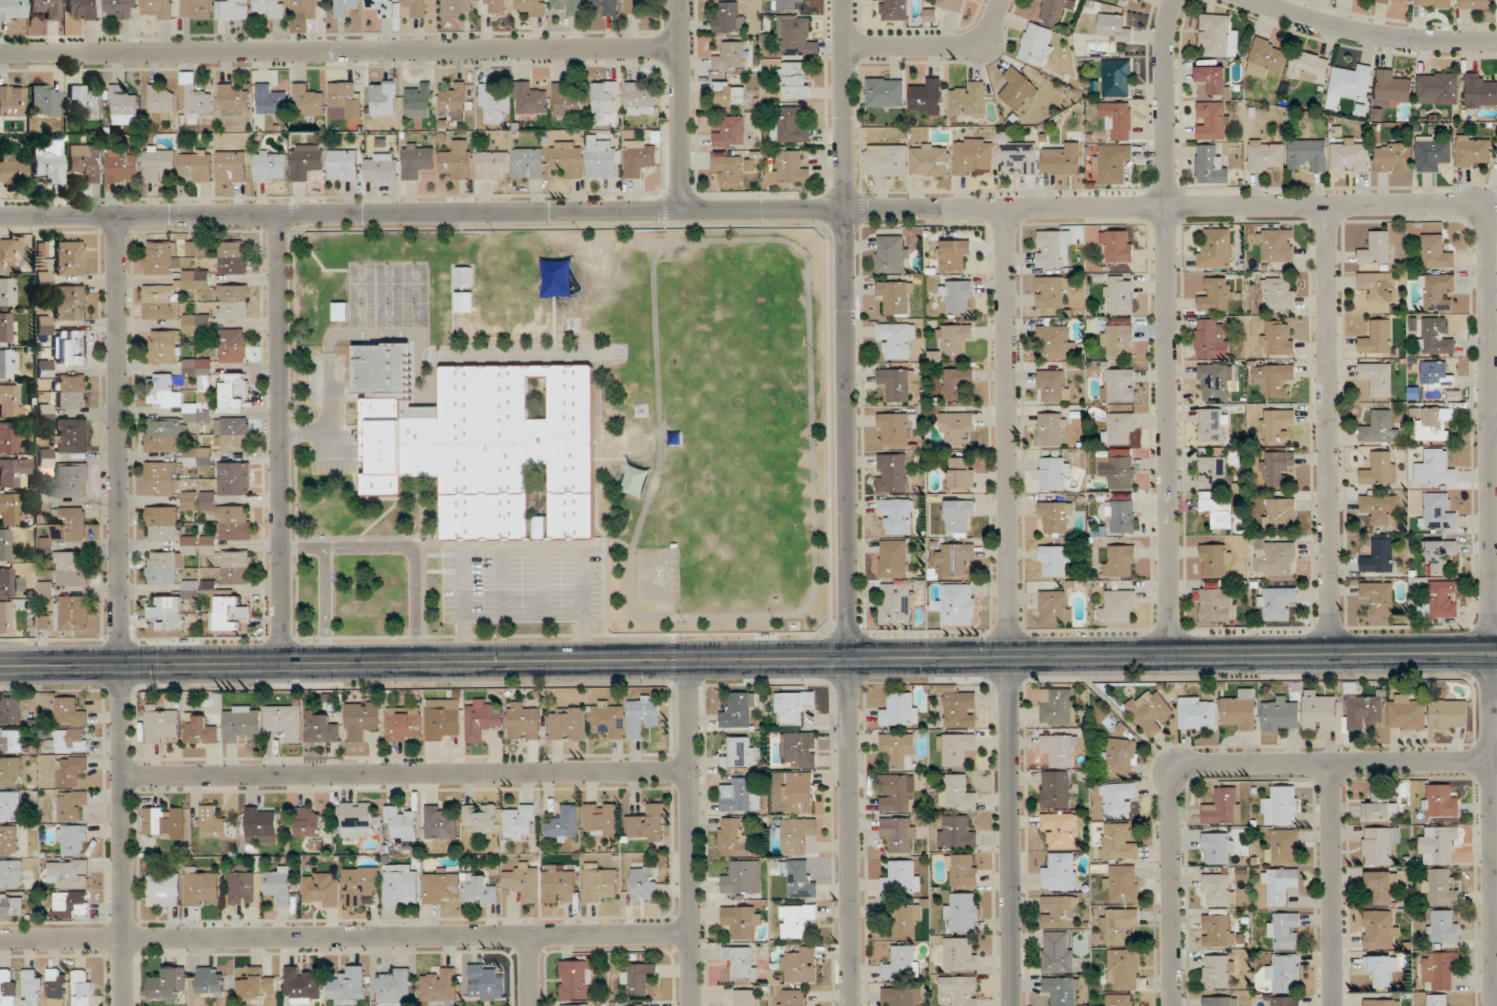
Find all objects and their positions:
building: (1382, 1)
building: (953, 4)
building: (1433, 4)
building: (1474, 4)
building: (785, 5)
building: (568, 6)
building: (606, 6)
building: (634, 6)
building: (345, 7)
building: (381, 7)
building: (416, 7)
building: (456, 7)
building: (493, 7)
building: (532, 7)
building: (47, 8)
building: (121, 8)
building: (158, 8)
building: (270, 8)
building: (303, 8)
building: (83, 9)
building: (195, 9)
building: (895, 9)
building: (12, 10)
building: (233, 10)
building: (1054, 11)
building: (929, 15)
building: (727, 18)
building: (1114, 27)
road: (1372, 34)
building: (1219, 35)
building: (796, 37)
building: (1036, 44)
road: (937, 47)
road: (339, 51)
building: (731, 55)
building: (1266, 58)
building: (1308, 66)
building: (1213, 77)
building: (1117, 78)
building: (794, 80)
building: (1352, 81)
building: (1017, 88)
building: (1393, 88)
building: (1438, 88)
building: (885, 91)
building: (1480, 91)
building: (730, 94)
building: (603, 96)
building: (382, 97)
building: (927, 97)
building: (234, 99)
building: (309, 99)
building: (345, 99)
building: (530, 99)
building: (639, 99)
building: (46, 100)
building: (12, 101)
building: (194, 101)
building: (270, 101)
building: (419, 101)
building: (454, 101)
building: (565, 101)
building: (968, 101)
building: (85, 102)
building: (161, 102)
building: (494, 105)
building: (123, 106)
road: (679, 106)
building: (1118, 119)
building: (1213, 120)
building: (790, 126)
building: (731, 132)
building: (1473, 151)
building: (1432, 152)
building: (972, 155)
building: (1266, 155)
building: (1308, 155)
building: (1016, 156)
building: (1350, 156)
building: (1393, 157)
building: (1496, 157)
building: (568, 158)
building: (639, 158)
building: (457, 159)
building: (602, 159)
building: (930, 159)
building: (417, 160)
building: (886, 160)
building: (1063, 160)
building: (51, 161)
building: (86, 161)
building: (307, 161)
building: (158, 163)
building: (529, 163)
building: (1111, 163)
building: (492, 164)
building: (1211, 164)
building: (197, 165)
building: (343, 165)
building: (122, 166)
building: (231, 166)
building: (270, 166)
building: (791, 167)
building: (12, 168)
building: (382, 168)
building: (732, 170)
road: (1140, 207)
road: (823, 230)
road: (637, 231)
building: (1276, 245)
building: (1117, 246)
building: (196, 248)
building: (1052, 248)
building: (1377, 248)
building: (1216, 249)
building: (1436, 252)
building: (7, 253)
building: (954, 253)
building: (892, 254)
building: (161, 257)
building: (233, 257)
building: (70, 258)
building: (464, 276)
building: (196, 279)
building: (1379, 286)
building: (6, 291)
building: (1052, 292)
building: (1437, 292)
building: (1119, 294)
building: (1279, 294)
building: (956, 295)
building: (1217, 295)
building: (895, 296)
building: (162, 301)
building: (233, 301)
building: (70, 302)
building: (465, 302)
building: (341, 311)
building: (196, 323)
building: (43, 325)
building: (465, 326)
building: (5, 327)
road: (1166, 327)
building: (1432, 335)
building: (954, 338)
building: (1277, 338)
building: (1378, 338)
building: (897, 339)
building: (1211, 339)
building: (1117, 340)
building: (1055, 343)
building: (232, 345)
building: (164, 346)
building: (70, 347)
building: (5, 363)
building: (44, 369)
building: (1436, 374)
building: (1273, 378)
building: (1378, 378)
building: (1215, 380)
building: (955, 382)
building: (896, 383)
building: (1118, 384)
building: (1053, 385)
building: (72, 391)
building: (163, 391)
building: (234, 393)
building: (11, 400)
building: (197, 410)
building: (45, 412)
road: (1493, 415)
road: (332, 421)
building: (1433, 423)
building: (1213, 425)
building: (1277, 425)
building: (958, 426)
building: (896, 427)
building: (1119, 428)
building: (1379, 428)
building: (1052, 429)
road: (1328, 430)
building: (233, 434)
building: (71, 435)
building: (9, 437)
road: (280, 439)
building: (483, 441)
building: (198, 456)
building: (45, 457)
building: (1277, 467)
building: (1381, 468)
building: (1434, 468)
building: (1117, 471)
building: (962, 472)
building: (1215, 472)
building: (15, 473)
building: (892, 473)
building: (1054, 473)
building: (234, 478)
building: (71, 479)
building: (161, 479)
building: (636, 480)
road: (846, 503)
building: (12, 509)
building: (1380, 509)
building: (1217, 511)
building: (1437, 511)
building: (1280, 513)
building: (959, 514)
building: (897, 515)
building: (1056, 516)
building: (1121, 516)
building: (229, 518)
building: (168, 519)
building: (74, 525)
building: (541, 533)
building: (5, 544)
road: (404, 547)
road: (524, 551)
building: (1439, 555)
building: (1380, 556)
building: (893, 558)
building: (956, 558)
building: (1278, 558)
building: (1119, 560)
building: (1215, 560)
building: (1055, 561)
building: (236, 567)
building: (73, 568)
building: (161, 568)
building: (10, 583)
building: (1380, 597)
building: (1440, 600)
building: (1276, 602)
building: (897, 603)
building: (1216, 603)
building: (957, 604)
road: (325, 605)
building: (1055, 606)
building: (1118, 606)
road: (1009, 607)
road: (122, 611)
building: (168, 613)
building: (76, 615)
building: (232, 615)
road: (775, 615)
building: (6, 617)
building: (45, 621)
road: (827, 633)
road: (809, 658)
road: (61, 665)
building: (793, 706)
building: (1058, 706)
building: (958, 708)
building: (739, 710)
building: (900, 710)
building: (1241, 710)
building: (10, 711)
building: (1152, 711)
building: (1364, 711)
building: (70, 712)
building: (1321, 712)
building: (1406, 712)
building: (1197, 713)
building: (1280, 714)
building: (1449, 714)
building: (643, 715)
building: (482, 718)
building: (608, 719)
building: (362, 720)
building: (285, 721)
building: (524, 721)
building: (242, 722)
building: (442, 722)
building: (568, 723)
building: (404, 724)
building: (162, 725)
building: (321, 727)
building: (200, 730)
building: (71, 740)
building: (11, 741)
building: (956, 748)
building: (799, 749)
building: (898, 749)
building: (1061, 749)
building: (740, 753)
building: (1122, 757)
road: (1214, 765)
building: (71, 770)
building: (10, 772)
road: (407, 774)
building: (1055, 789)
building: (896, 792)
building: (956, 792)
building: (798, 793)
building: (740, 796)
building: (1117, 800)
building: (1440, 801)
building: (71, 805)
building: (1283, 805)
building: (10, 806)
building: (1223, 806)
building: (1380, 806)
building: (481, 816)
building: (358, 819)
building: (601, 819)
building: (518, 820)
building: (310, 821)
building: (166, 822)
building: (213, 822)
building: (402, 822)
building: (439, 823)
building: (646, 823)
building: (563, 824)
building: (261, 825)
building: (1060, 829)
road: (690, 832)
building: (898, 833)
building: (957, 833)
building: (796, 834)
building: (732, 838)
building: (8, 840)
building: (73, 840)
building: (1119, 841)
building: (1438, 845)
building: (1282, 846)
building: (1378, 846)
building: (1218, 848)
building: (962, 870)
building: (1060, 872)
building: (12, 874)
building: (68, 874)
building: (902, 877)
building: (799, 878)
building: (741, 879)
building: (523, 881)
building: (401, 884)
building: (599, 884)
building: (1122, 884)
building: (1280, 884)
building: (360, 885)
building: (558, 885)
building: (644, 885)
road: (1331, 885)
building: (242, 886)
building: (279, 886)
building: (1383, 886)
building: (163, 887)
building: (441, 887)
building: (202, 888)
building: (1440, 888)
building: (479, 889)
building: (1218, 889)
building: (321, 890)
building: (12, 904)
building: (70, 905)
building: (963, 912)
building: (1060, 912)
building: (796, 920)
building: (742, 921)
building: (906, 921)
building: (1118, 925)
building: (1443, 927)
building: (1218, 928)
building: (1380, 929)
building: (1283, 931)
road: (345, 937)
building: (1058, 952)
building: (960, 954)
building: (742, 961)
building: (902, 963)
building: (799, 965)
road: (1495, 967)
building: (1439, 968)
building: (1123, 969)
road: (531, 970)
building: (1382, 970)
building: (1218, 971)
building: (1284, 973)
building: (638, 977)
building: (576, 980)
building: (211, 981)
building: (486, 983)
building: (255, 984)
building: (168, 985)
building: (302, 986)
building: (349, 986)
building: (395, 986)
building: (32, 987)
building: (57, 987)
building: (440, 987)
building: (8, 989)
building: (82, 989)
building: (959, 990)
building: (1063, 990)
building: (901, 996)
building: (745, 997)
building: (793, 997)
building: (1119, 1000)
building: (1437, 1000)
building: (1221, 1001)
building: (1284, 1001)
building: (1381, 1002)
building: (577, 1005)
building: (640, 1005)

